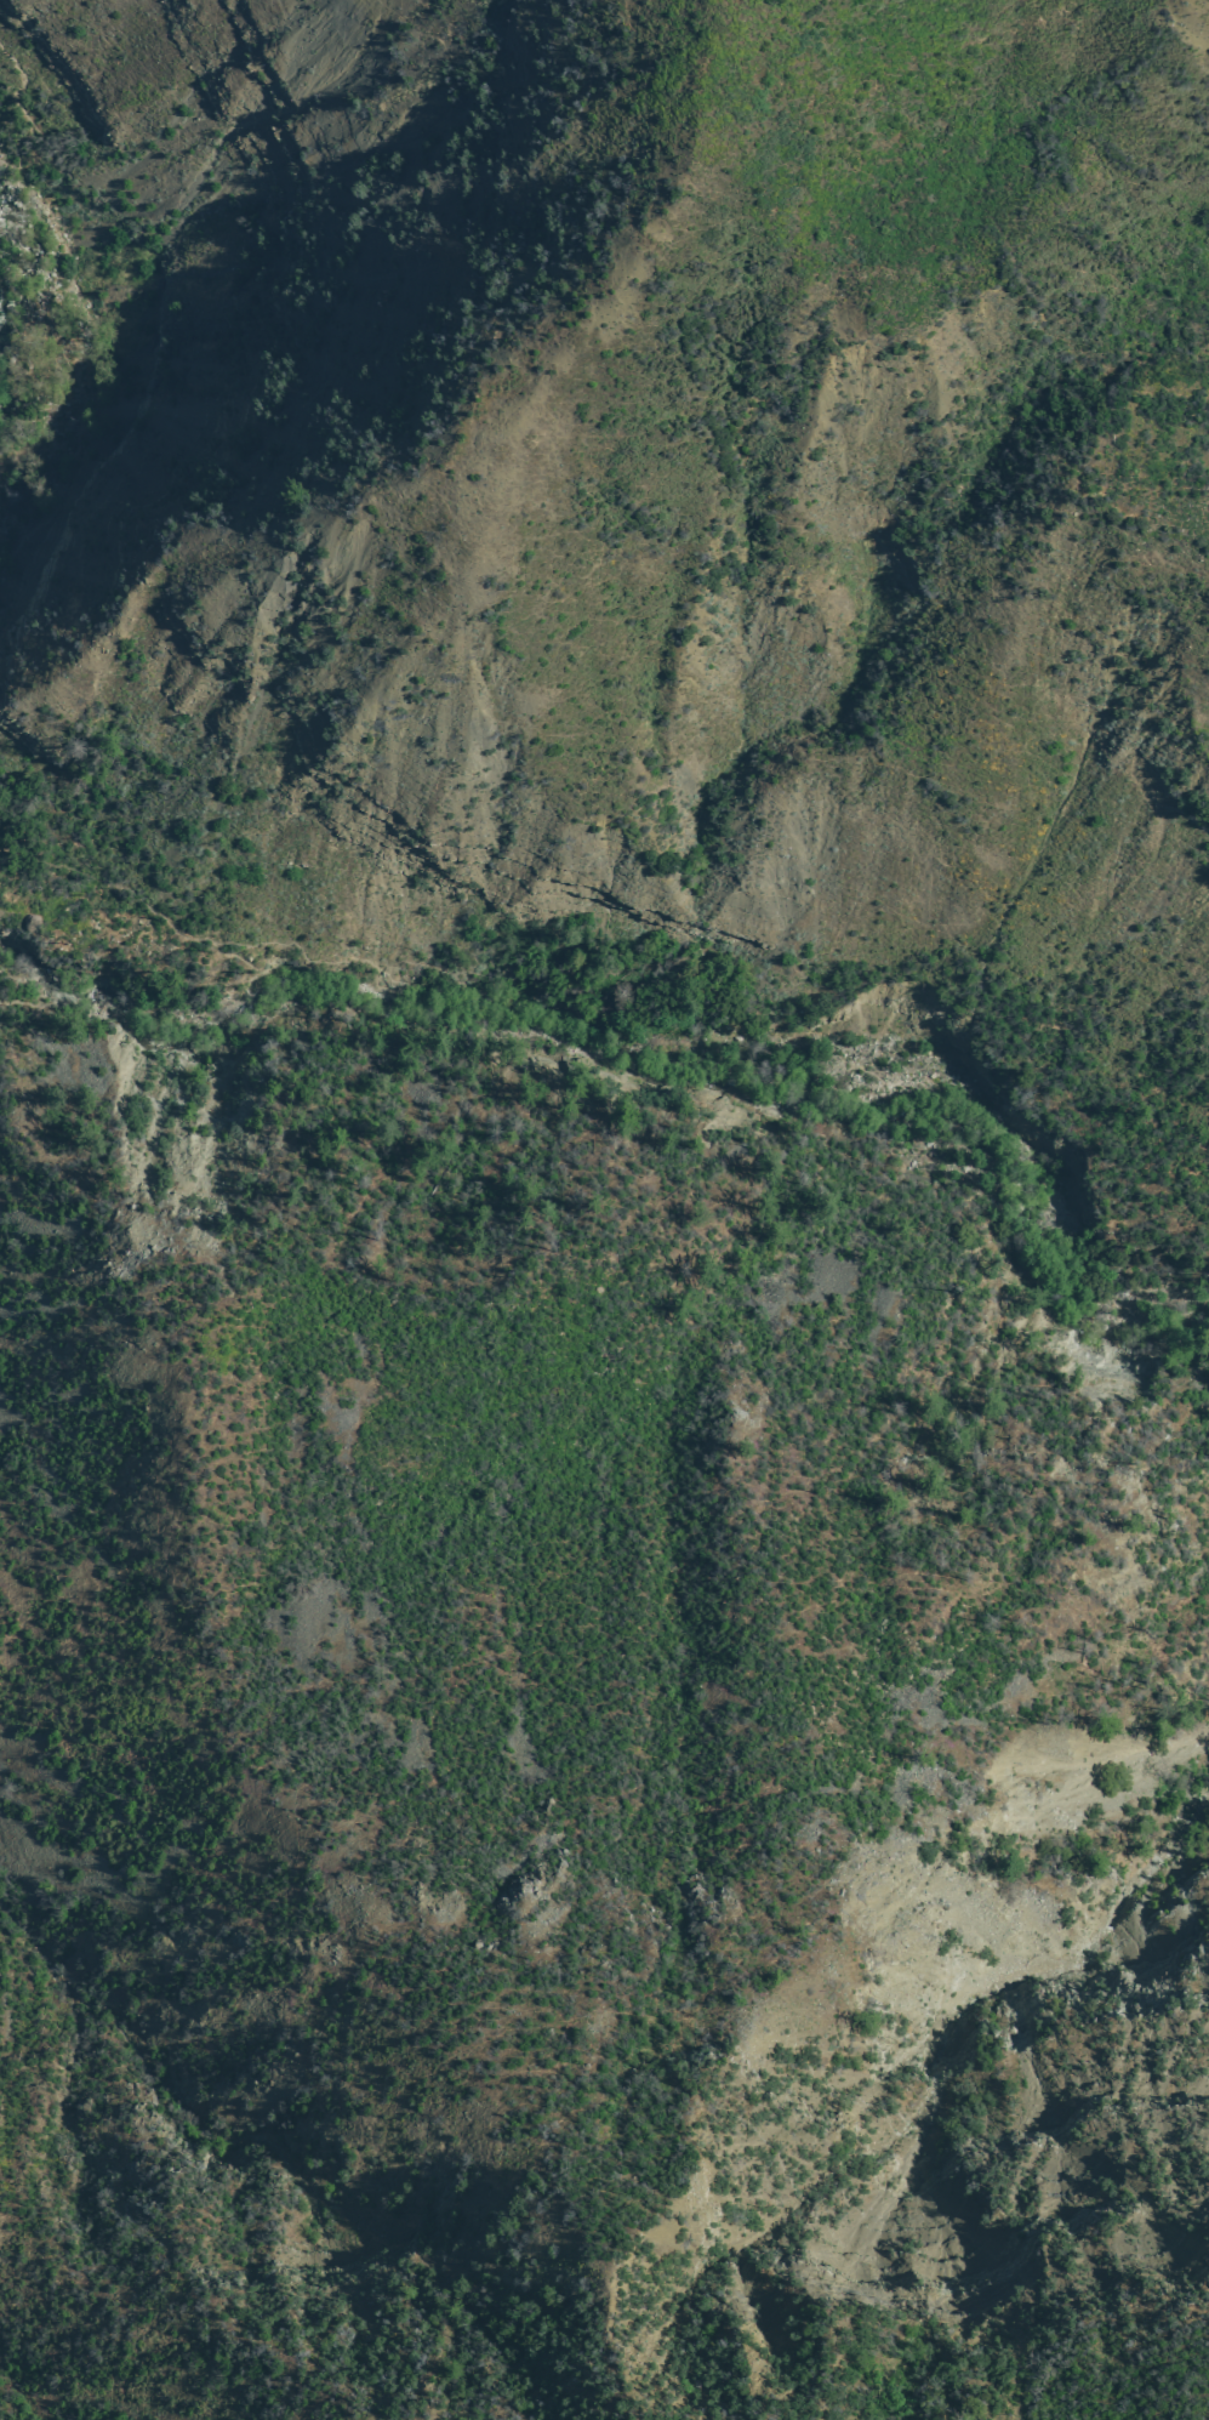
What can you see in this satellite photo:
road: (85, 298)
road: (129, 888)
road: (127, 1004)
road: (764, 1072)

